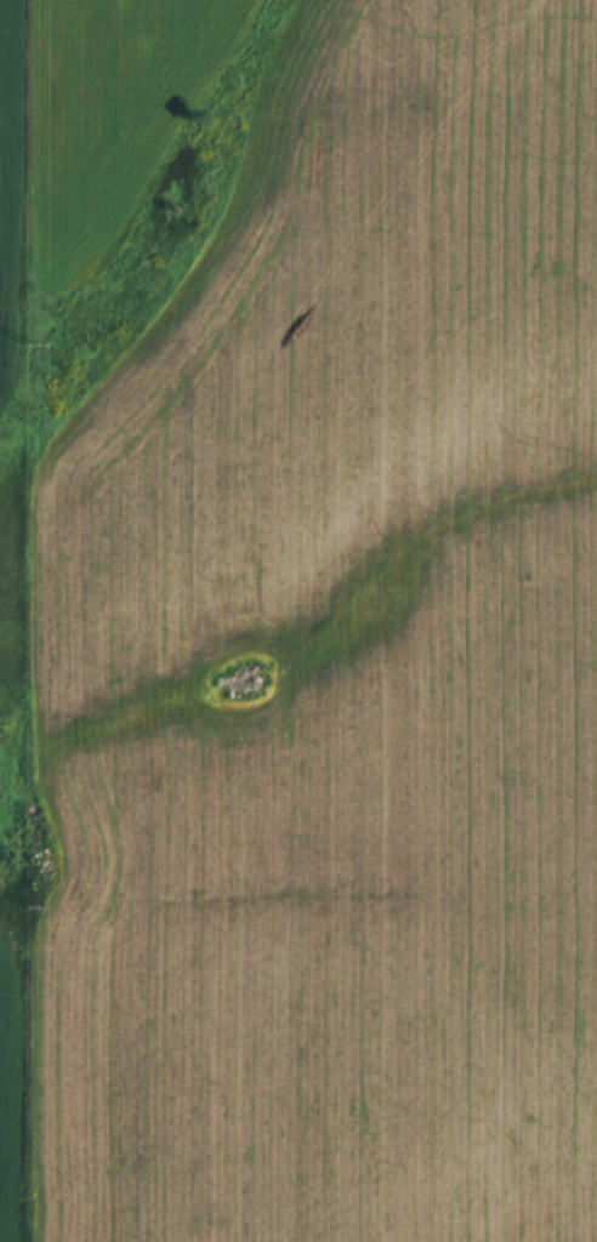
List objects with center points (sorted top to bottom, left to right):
power tower: (27, 344)
power tower: (27, 907)

